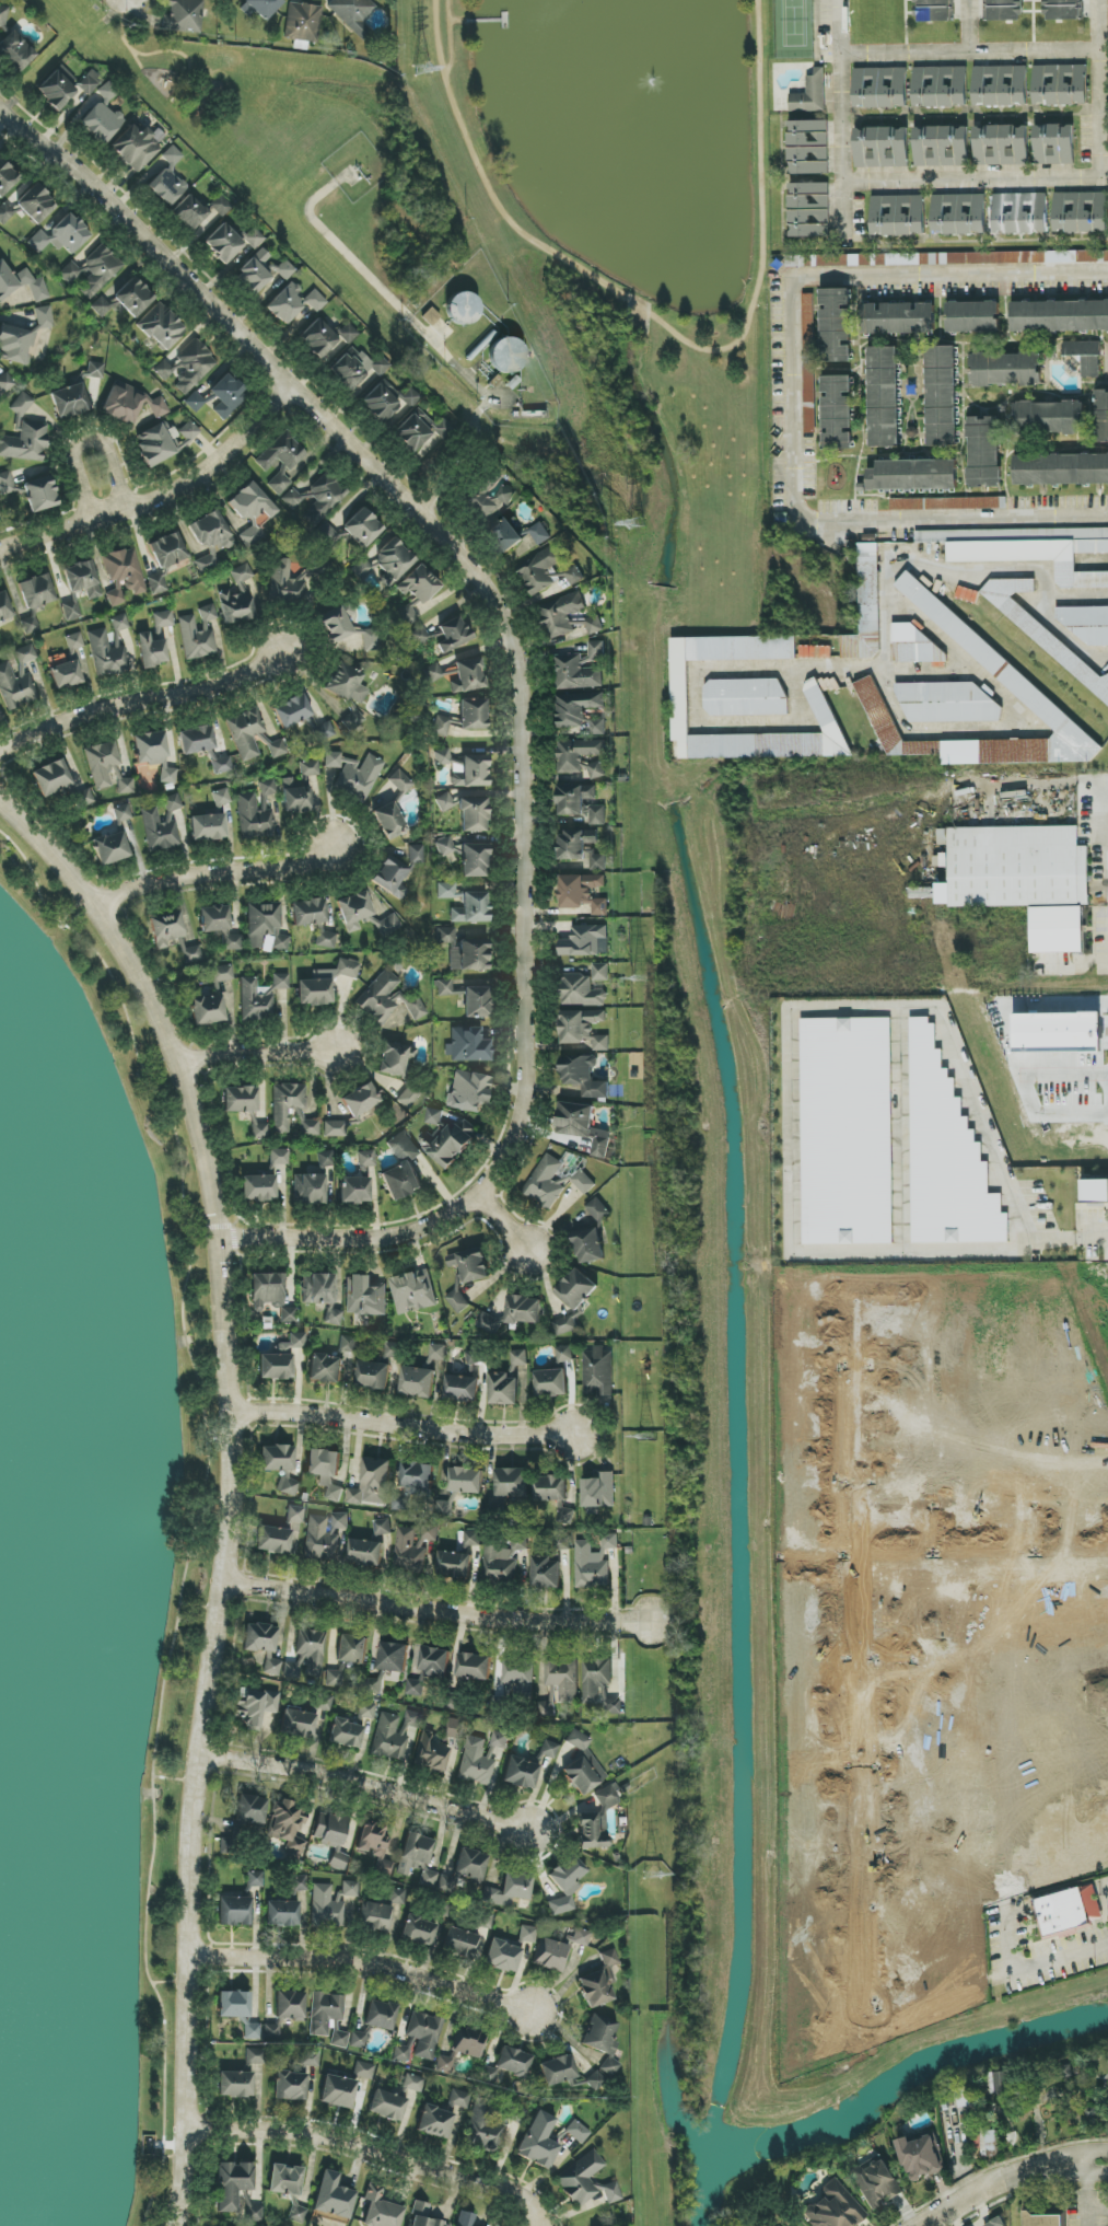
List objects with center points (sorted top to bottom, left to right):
building: (261, 7)
building: (1005, 10)
building: (1062, 10)
building: (933, 11)
building: (352, 14)
building: (3, 15)
building: (183, 16)
pier: (504, 21)
pier: (486, 22)
road: (457, 23)
building: (303, 24)
road: (1095, 26)
road: (969, 27)
road: (448, 37)
building: (15, 53)
road: (967, 55)
power tower: (422, 71)
building: (1061, 84)
building: (1001, 85)
building: (66, 86)
building: (941, 86)
building: (880, 88)
building: (809, 92)
building: (102, 116)
road: (840, 116)
fountain: (638, 120)
building: (808, 144)
building: (1054, 144)
building: (955, 146)
building: (1002, 146)
building: (136, 147)
building: (928, 147)
building: (882, 148)
park: (626, 153)
building: (7, 177)
road: (1103, 177)
road: (1031, 179)
building: (28, 206)
building: (808, 207)
building: (1081, 212)
building: (199, 213)
building: (1020, 213)
building: (959, 215)
building: (898, 216)
building: (61, 235)
building: (253, 237)
building: (223, 243)
building: (947, 258)
building: (284, 269)
building: (100, 270)
building: (70, 273)
building: (254, 273)
building: (21, 283)
building: (126, 299)
building: (293, 303)
building: (462, 309)
building: (1059, 316)
building: (44, 317)
building: (973, 317)
building: (898, 318)
building: (836, 325)
building: (161, 326)
road: (666, 327)
building: (325, 337)
building: (15, 345)
building: (1082, 348)
building: (508, 356)
building: (809, 359)
building: (187, 364)
building: (1089, 367)
building: (355, 369)
building: (95, 370)
building: (1005, 370)
building: (5, 383)
road: (791, 394)
building: (883, 396)
building: (941, 396)
building: (69, 401)
building: (388, 401)
building: (130, 404)
building: (837, 411)
building: (1103, 416)
building: (1048, 417)
building: (413, 430)
building: (189, 431)
building: (24, 437)
road: (85, 442)
building: (155, 444)
building: (983, 452)
building: (281, 453)
road: (219, 462)
building: (1061, 469)
building: (913, 475)
building: (5, 483)
building: (279, 483)
building: (40, 494)
building: (316, 497)
building: (488, 498)
building: (250, 502)
building: (947, 503)
road: (62, 527)
building: (362, 527)
power tower: (635, 527)
building: (538, 533)
building: (326, 534)
building: (505, 535)
building: (252, 536)
building: (210, 538)
building: (1027, 549)
building: (167, 550)
building: (393, 559)
building: (125, 569)
building: (361, 569)
road: (960, 577)
building: (82, 579)
building: (284, 583)
building: (158, 584)
building: (419, 584)
building: (36, 591)
building: (115, 596)
road: (1076, 596)
building: (237, 598)
road: (1046, 598)
building: (4, 607)
building: (866, 607)
building: (71, 611)
building: (407, 615)
building: (562, 615)
building: (162, 622)
building: (119, 623)
building: (337, 623)
building: (950, 623)
building: (1082, 624)
building: (594, 625)
building: (1041, 630)
building: (198, 635)
building: (451, 635)
building: (419, 636)
building: (370, 638)
building: (74, 641)
road: (1075, 642)
building: (914, 646)
building: (596, 650)
building: (151, 651)
building: (815, 652)
building: (106, 654)
road: (878, 670)
building: (578, 673)
building: (66, 674)
building: (459, 675)
road: (696, 677)
building: (345, 683)
building: (15, 688)
road: (525, 693)
building: (746, 697)
road: (140, 700)
building: (947, 703)
building: (1041, 705)
building: (576, 708)
building: (292, 711)
building: (824, 711)
building: (473, 715)
building: (352, 720)
building: (890, 724)
building: (441, 726)
building: (598, 727)
road: (1025, 730)
building: (245, 732)
building: (323, 732)
building: (196, 740)
building: (278, 749)
building: (153, 753)
building: (442, 756)
building: (582, 757)
building: (102, 762)
building: (222, 764)
building: (470, 772)
building: (114, 775)
building: (354, 775)
building: (51, 778)
building: (399, 780)
building: (126, 786)
building: (267, 787)
building: (301, 789)
building: (221, 798)
building: (444, 802)
building: (582, 803)
building: (171, 805)
building: (120, 812)
building: (473, 815)
building: (254, 819)
building: (388, 821)
building: (208, 827)
building: (159, 831)
road: (1104, 847)
building: (110, 848)
building: (581, 848)
building: (446, 849)
building: (415, 854)
building: (474, 860)
road: (212, 873)
building: (390, 878)
building: (1022, 879)
building: (445, 891)
building: (582, 893)
building: (471, 908)
building: (308, 912)
building: (363, 915)
building: (219, 925)
building: (264, 927)
building: (166, 928)
building: (444, 936)
building: (324, 937)
building: (585, 941)
building: (191, 954)
building: (469, 955)
road: (1081, 965)
building: (600, 972)
power tower: (642, 978)
building: (280, 981)
building: (324, 984)
building: (444, 987)
building: (580, 992)
building: (255, 1000)
building: (476, 1001)
building: (384, 1002)
building: (207, 1010)
building: (580, 1025)
building: (600, 1043)
building: (466, 1045)
road: (256, 1051)
road: (792, 1056)
building: (393, 1058)
building: (583, 1076)
building: (468, 1091)
building: (409, 1095)
building: (360, 1100)
building: (245, 1108)
building: (291, 1109)
building: (582, 1126)
building: (335, 1128)
road: (901, 1129)
building: (847, 1131)
building: (446, 1138)
building: (946, 1156)
building: (279, 1157)
building: (366, 1159)
building: (401, 1168)
building: (553, 1182)
building: (313, 1183)
building: (258, 1187)
building: (354, 1190)
building: (1095, 1191)
building: (597, 1209)
road: (504, 1221)
road: (1066, 1233)
building: (588, 1244)
building: (467, 1273)
building: (317, 1289)
building: (576, 1289)
building: (413, 1291)
building: (272, 1295)
building: (364, 1297)
building: (524, 1310)
building: (333, 1315)
building: (490, 1323)
building: (564, 1325)
building: (438, 1352)
building: (564, 1354)
building: (281, 1358)
building: (330, 1363)
building: (475, 1364)
building: (598, 1371)
building: (373, 1375)
building: (417, 1381)
building: (508, 1381)
building: (550, 1383)
building: (462, 1389)
road: (404, 1428)
power tower: (646, 1438)
building: (277, 1458)
building: (325, 1472)
building: (418, 1479)
building: (466, 1480)
building: (512, 1482)
building: (372, 1483)
road: (228, 1485)
building: (287, 1486)
building: (551, 1489)
building: (598, 1492)
building: (445, 1508)
building: (295, 1514)
road: (982, 1515)
building: (382, 1527)
road: (908, 1529)
building: (324, 1535)
building: (471, 1539)
building: (273, 1540)
road: (982, 1541)
building: (558, 1544)
building: (413, 1545)
building: (365, 1553)
building: (503, 1560)
building: (593, 1562)
building: (454, 1564)
building: (546, 1573)
road: (436, 1611)
building: (263, 1645)
building: (351, 1649)
building: (306, 1656)
building: (393, 1657)
building: (433, 1661)
road: (859, 1662)
building: (474, 1666)
road: (922, 1666)
building: (518, 1678)
building: (334, 1679)
building: (563, 1680)
building: (598, 1684)
building: (373, 1685)
building: (415, 1688)
building: (325, 1702)
building: (255, 1706)
building: (547, 1708)
building: (298, 1724)
building: (351, 1728)
building: (396, 1736)
building: (436, 1747)
building: (549, 1749)
building: (481, 1759)
building: (582, 1766)
building: (520, 1773)
road: (368, 1786)
building: (250, 1810)
building: (596, 1821)
building: (288, 1827)
building: (331, 1835)
building: (375, 1845)
building: (415, 1853)
road: (924, 1859)
building: (470, 1865)
building: (428, 1878)
power tower: (651, 1878)
building: (253, 1879)
building: (299, 1882)
building: (446, 1883)
building: (565, 1885)
building: (509, 1890)
building: (396, 1897)
building: (325, 1908)
building: (1069, 1909)
building: (234, 1911)
building: (282, 1914)
building: (375, 1916)
building: (418, 1931)
building: (580, 1937)
building: (459, 1943)
building: (509, 1950)
building: (551, 1955)
road: (365, 1960)
road: (1038, 1963)
building: (599, 1981)
building: (233, 2004)
building: (290, 2005)
building: (380, 2015)
building: (328, 2018)
building: (250, 2030)
building: (271, 2031)
building: (598, 2034)
building: (358, 2039)
building: (420, 2039)
building: (469, 2042)
building: (255, 2056)
building: (446, 2062)
building: (506, 2064)
building: (363, 2071)
building: (557, 2071)
building: (412, 2083)
building: (1000, 2083)
building: (235, 2084)
building: (290, 2086)
building: (337, 2091)
building: (387, 2105)
building: (442, 2115)
building: (485, 2130)
building: (578, 2132)
building: (538, 2141)
building: (989, 2143)
road: (373, 2152)
building: (921, 2157)
road: (1008, 2177)
building: (285, 2180)
building: (588, 2180)
building: (876, 2182)
building: (232, 2184)
road: (1086, 2193)
building: (333, 2196)
building: (833, 2208)
building: (381, 2210)
road: (1097, 2211)
building: (253, 2213)
building: (296, 2214)
building: (422, 2216)
building: (465, 2218)
building: (1043, 2219)
building: (994, 2223)

